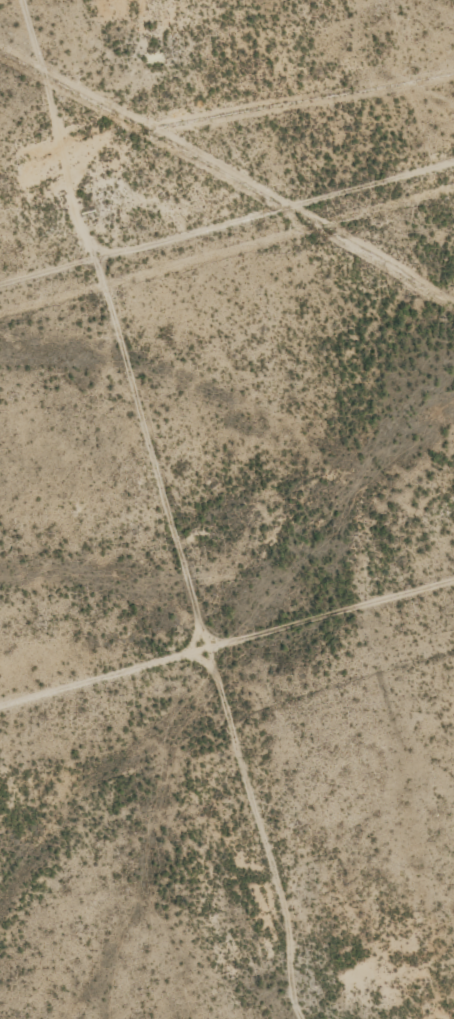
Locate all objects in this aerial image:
road: (227, 639)

